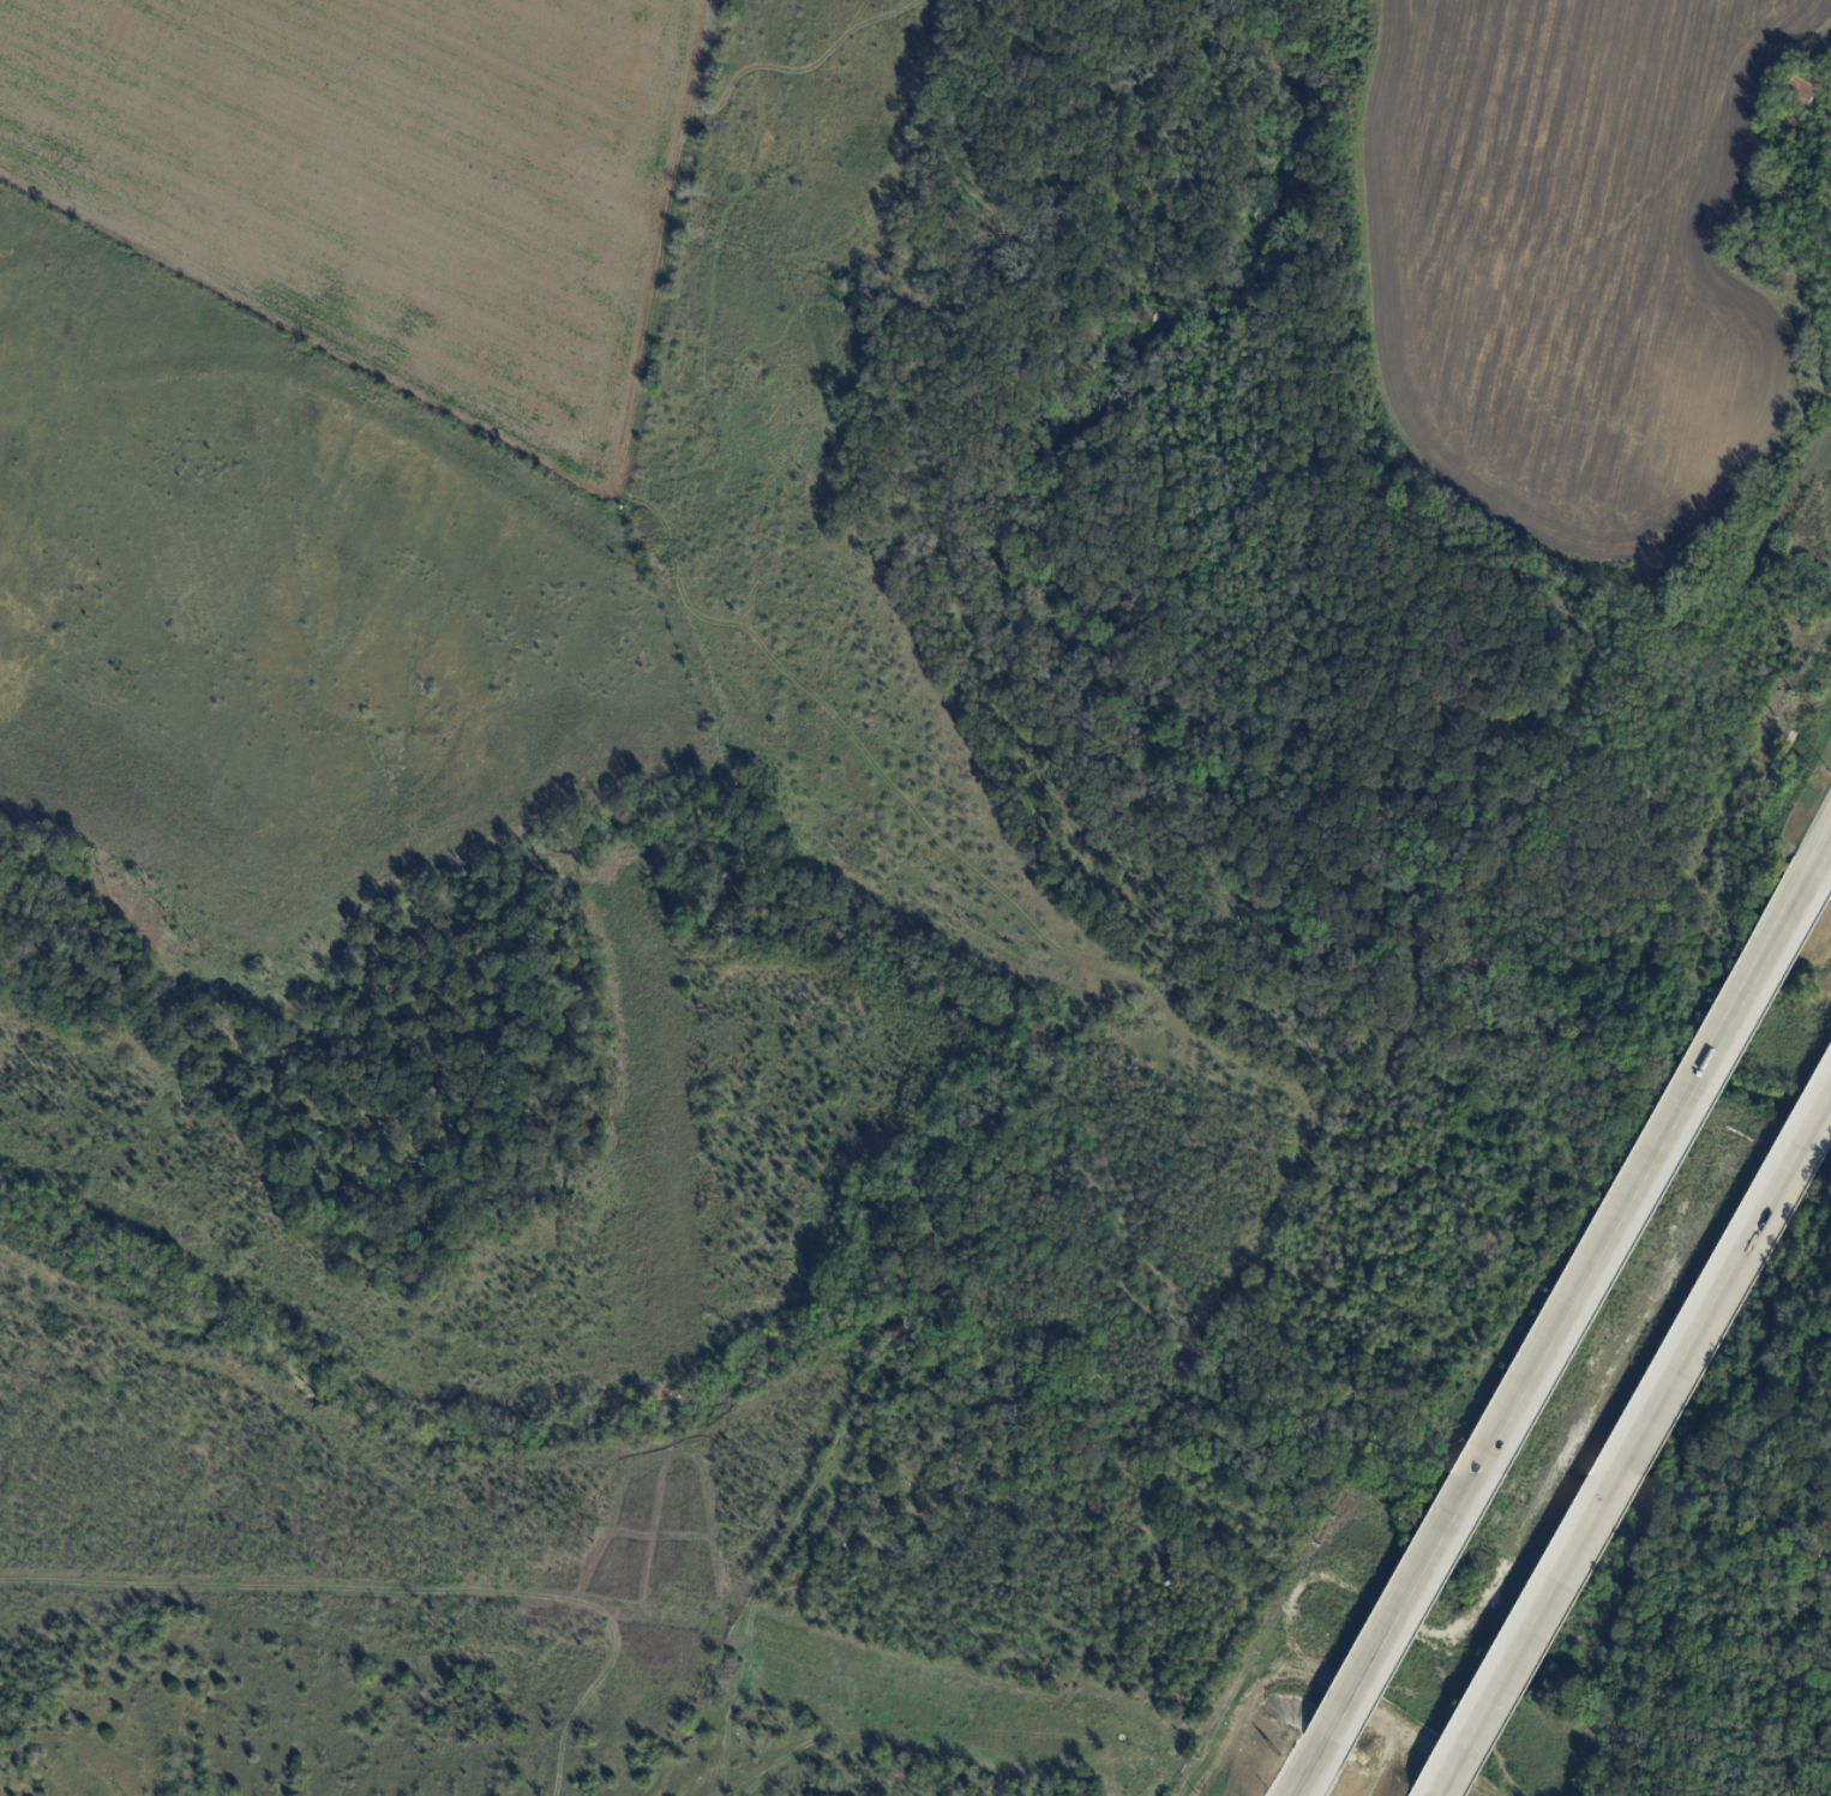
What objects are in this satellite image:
building: (1802, 88)
building: (1758, 244)
road: (1826, 858)
road: (1826, 861)
road: (1571, 1314)
road: (1637, 1448)
road: (1308, 1777)

